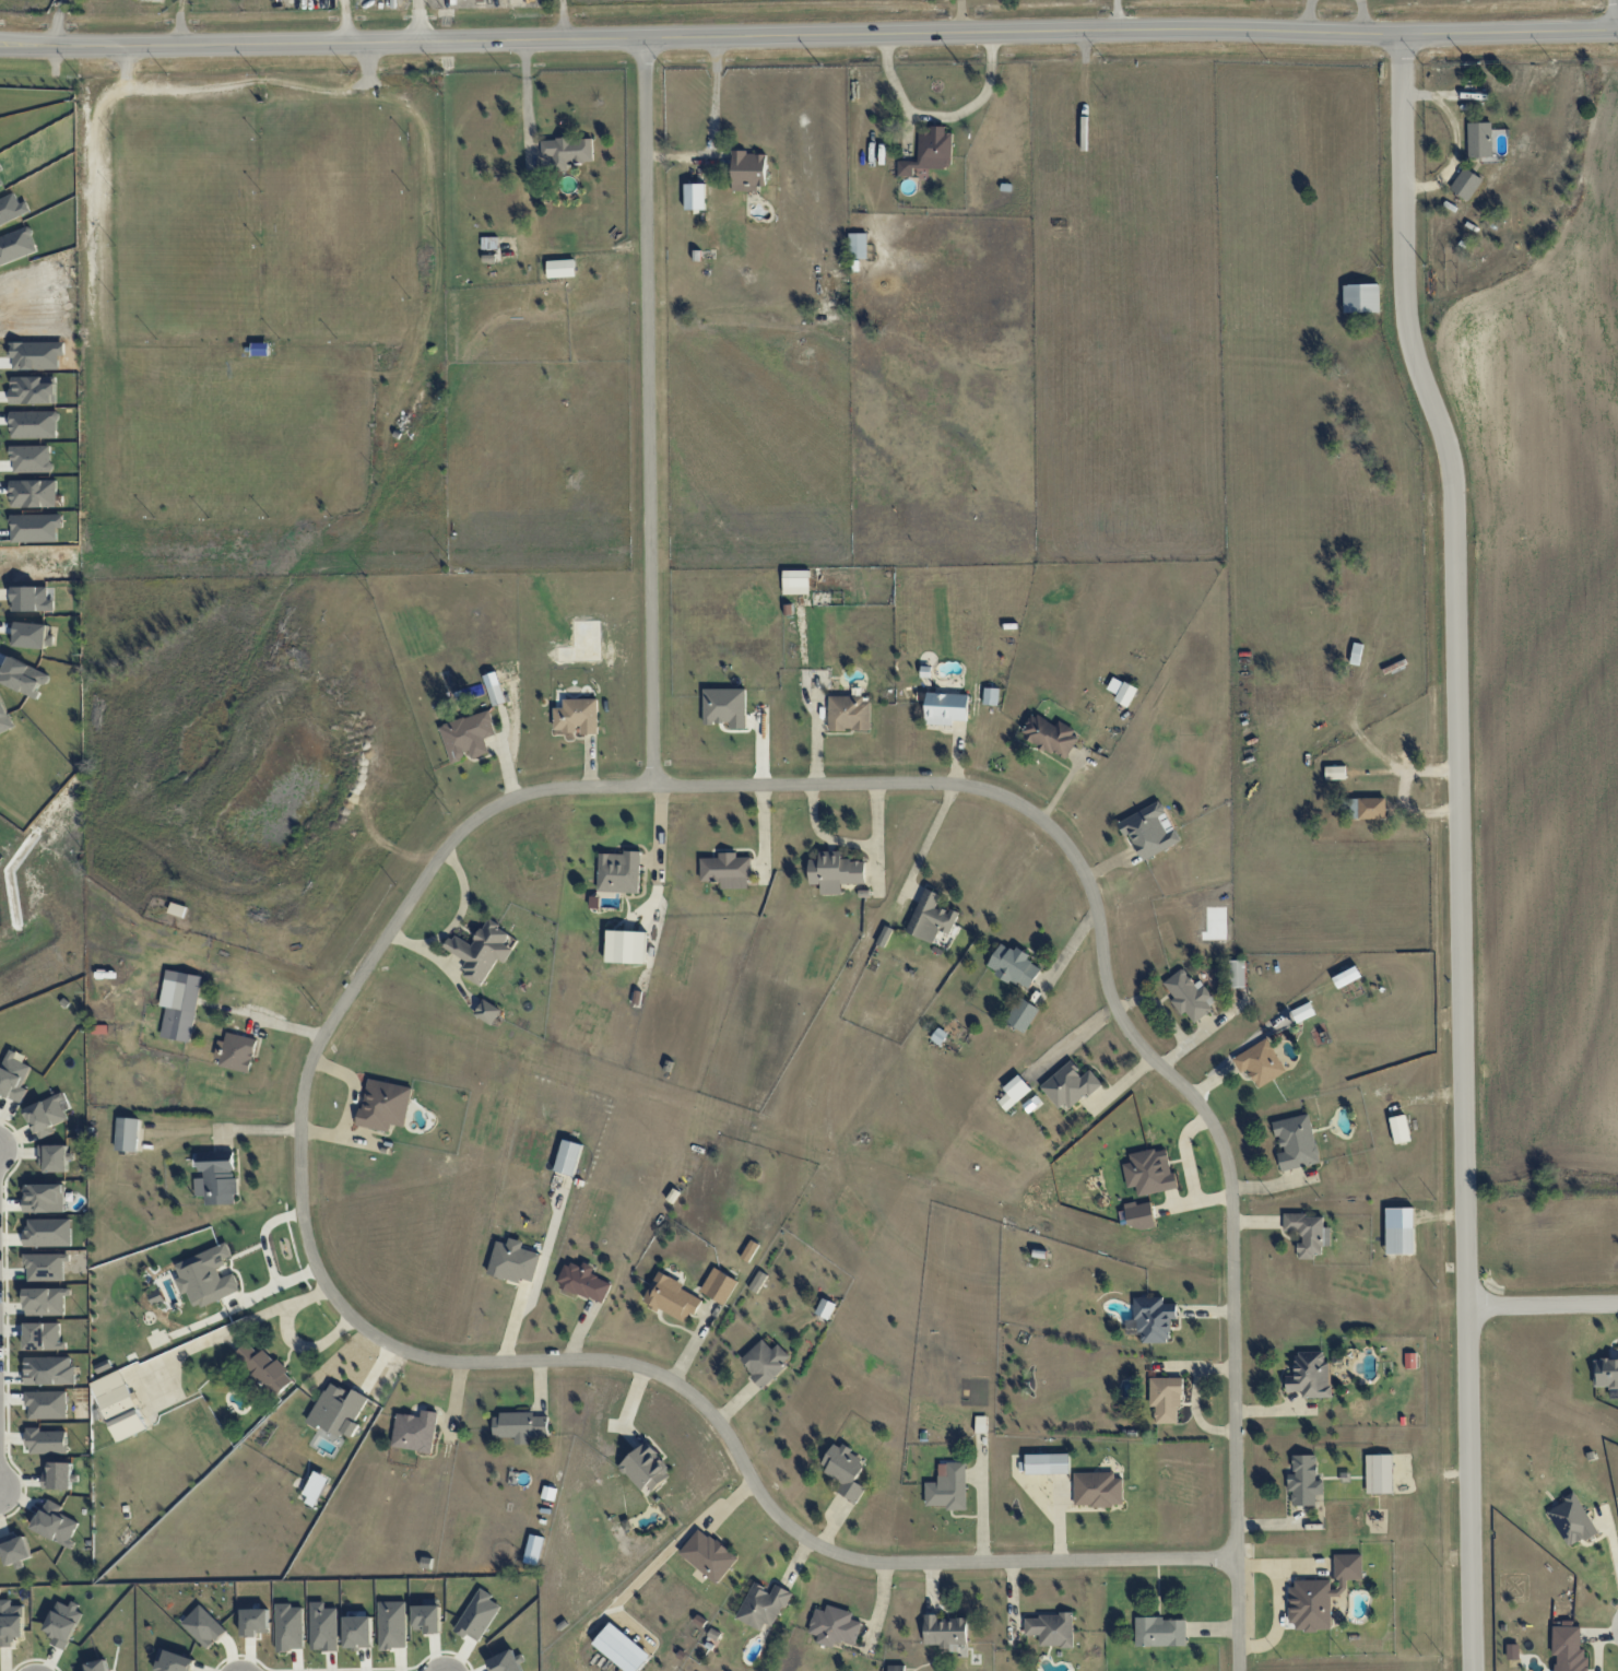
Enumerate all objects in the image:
road: (1115, 15)
road: (1615, 15)
road: (58, 22)
road: (836, 35)
road: (27, 44)
road: (525, 91)
road: (940, 115)
road: (713, 127)
building: (1479, 139)
building: (568, 151)
building: (930, 152)
building: (748, 170)
building: (1465, 184)
building: (694, 196)
building: (858, 246)
building: (562, 268)
building: (1361, 297)
road: (649, 412)
building: (795, 581)
building: (1122, 691)
building: (496, 694)
building: (991, 696)
building: (724, 707)
building: (946, 708)
building: (849, 714)
building: (577, 716)
building: (468, 736)
building: (1050, 736)
building: (1335, 772)
building: (1366, 808)
road: (928, 829)
building: (1148, 831)
road: (827, 835)
road: (881, 836)
road: (1460, 848)
building: (727, 870)
building: (618, 872)
building: (835, 872)
building: (931, 918)
building: (884, 935)
building: (626, 946)
building: (481, 951)
building: (1014, 966)
building: (1236, 974)
building: (1346, 976)
building: (1189, 995)
building: (179, 1004)
building: (487, 1012)
building: (1302, 1012)
building: (1023, 1014)
road: (1143, 1049)
building: (236, 1051)
building: (1260, 1062)
building: (13, 1078)
building: (1068, 1086)
building: (1014, 1092)
road: (350, 1104)
building: (383, 1105)
building: (46, 1115)
building: (1399, 1129)
building: (127, 1134)
building: (1296, 1142)
building: (54, 1157)
building: (568, 1157)
building: (216, 1178)
building: (44, 1198)
building: (1309, 1233)
building: (1399, 1240)
building: (749, 1250)
road: (265, 1256)
building: (513, 1261)
building: (46, 1267)
building: (206, 1276)
building: (757, 1281)
building: (583, 1282)
building: (719, 1285)
building: (672, 1298)
building: (45, 1302)
road: (1543, 1303)
building: (825, 1308)
building: (1154, 1319)
building: (43, 1335)
road: (457, 1362)
building: (765, 1362)
building: (264, 1369)
building: (1606, 1372)
building: (1310, 1375)
building: (1166, 1399)
building: (118, 1405)
building: (338, 1410)
building: (519, 1426)
building: (415, 1431)
building: (1047, 1463)
building: (646, 1468)
building: (845, 1471)
building: (1379, 1473)
building: (60, 1475)
building: (1304, 1481)
building: (948, 1487)
building: (315, 1488)
building: (1097, 1488)
building: (1571, 1520)
road: (1611, 1545)
building: (708, 1555)
building: (1347, 1569)
building: (1310, 1604)
building: (763, 1605)
building: (10, 1623)
building: (62, 1623)
building: (834, 1626)
building: (1051, 1629)
building: (945, 1632)
building: (1160, 1632)
road: (1596, 1644)
building: (1568, 1648)
building: (1512, 1651)
building: (175, 1662)
building: (97, 1666)
building: (896, 1668)

